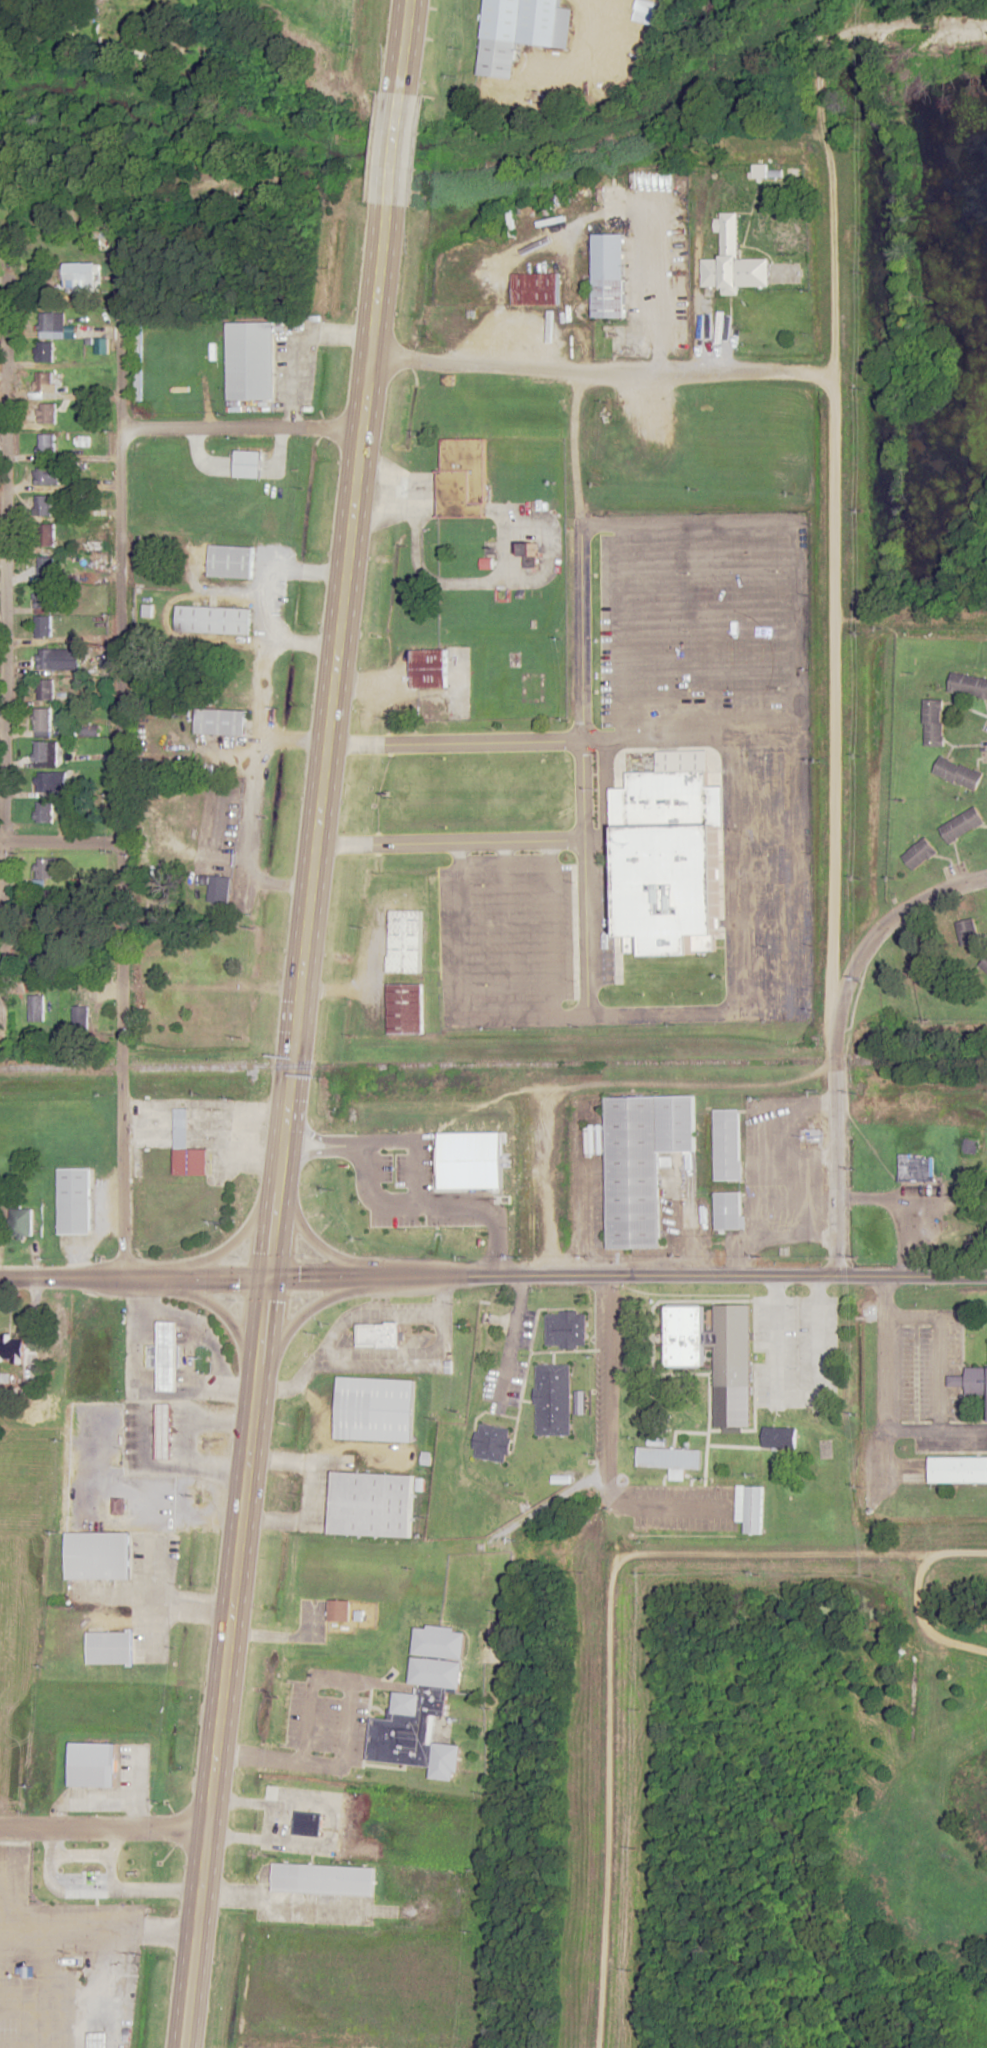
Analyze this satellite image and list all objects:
building: (645, 15)
road: (582, 26)
building: (520, 31)
road: (405, 46)
road: (394, 149)
road: (616, 165)
building: (774, 171)
building: (733, 260)
building: (608, 275)
building: (81, 279)
building: (534, 289)
building: (52, 325)
building: (45, 352)
building: (250, 360)
road: (603, 374)
building: (46, 382)
building: (48, 414)
road: (240, 430)
building: (48, 444)
building: (247, 464)
building: (47, 476)
building: (462, 478)
building: (44, 506)
road: (600, 524)
road: (687, 524)
building: (45, 538)
building: (95, 543)
building: (529, 555)
building: (230, 562)
road: (4, 563)
building: (46, 567)
road: (465, 584)
building: (43, 613)
building: (212, 619)
road: (833, 619)
parking lot: (607, 629)
parking lot: (642, 629)
parking lot: (687, 629)
road: (710, 629)
parking lot: (732, 629)
parking lot: (776, 629)
building: (45, 660)
building: (428, 669)
road: (578, 682)
building: (968, 686)
building: (45, 690)
building: (219, 722)
building: (41, 723)
building: (933, 723)
road: (263, 725)
road: (732, 737)
road: (644, 738)
building: (44, 754)
road: (118, 758)
parking lot: (765, 769)
building: (958, 773)
building: (47, 783)
road: (765, 784)
road: (582, 791)
road: (604, 800)
parking lot: (765, 807)
building: (44, 812)
building: (961, 826)
road: (766, 830)
road: (59, 842)
road: (451, 844)
building: (669, 852)
parking lot: (766, 854)
building: (920, 855)
building: (45, 873)
road: (731, 873)
road: (801, 873)
road: (766, 876)
building: (216, 889)
parking lot: (768, 900)
building: (155, 917)
parking lot: (605, 922)
road: (767, 923)
parking lot: (528, 929)
road: (550, 929)
road: (587, 929)
parking lot: (483, 930)
road: (506, 930)
parking lot: (565, 933)
building: (967, 933)
road: (869, 938)
building: (405, 941)
parking lot: (769, 946)
parking lot: (445, 948)
building: (215, 964)
building: (984, 965)
building: (166, 966)
road: (767, 968)
parking lot: (769, 983)
road: (239, 987)
building: (163, 1001)
building: (36, 1008)
building: (403, 1008)
road: (544, 1016)
building: (79, 1018)
railway: (901, 1059)
railway: (408, 1065)
road: (558, 1086)
road: (285, 1126)
building: (727, 1144)
building: (186, 1147)
building: (971, 1147)
building: (642, 1162)
building: (915, 1167)
road: (544, 1181)
building: (74, 1201)
road: (264, 1205)
building: (729, 1211)
building: (20, 1224)
road: (627, 1276)
road: (134, 1277)
road: (207, 1301)
road: (410, 1309)
road: (308, 1312)
road: (353, 1314)
building: (566, 1329)
building: (810, 1333)
building: (378, 1334)
building: (709, 1340)
building: (7, 1347)
road: (884, 1354)
building: (166, 1355)
road: (381, 1358)
building: (972, 1380)
building: (553, 1400)
building: (373, 1409)
road: (316, 1419)
road: (607, 1423)
building: (164, 1430)
building: (777, 1436)
building: (492, 1443)
building: (669, 1458)
building: (958, 1469)
road: (312, 1493)
building: (370, 1503)
building: (117, 1506)
road: (663, 1506)
building: (750, 1508)
building: (97, 1555)
building: (339, 1609)
road: (609, 1621)
road: (921, 1626)
road: (271, 1636)
building: (109, 1648)
building: (423, 1706)
parking lot: (294, 1713)
road: (347, 1721)
parking lot: (326, 1724)
parking lot: (359, 1733)
building: (92, 1764)
parking lot: (300, 1794)
parking lot: (279, 1822)
building: (308, 1823)
road: (330, 1825)
road: (103, 1831)
parking lot: (298, 1849)
building: (84, 1874)
building: (323, 1879)
parking lot: (322, 1897)
road: (312, 1904)
parking lot: (313, 1916)
road: (97, 1932)
road: (0, 1970)
road: (36, 1990)
building: (97, 2040)
gas station: (97, 2040)

